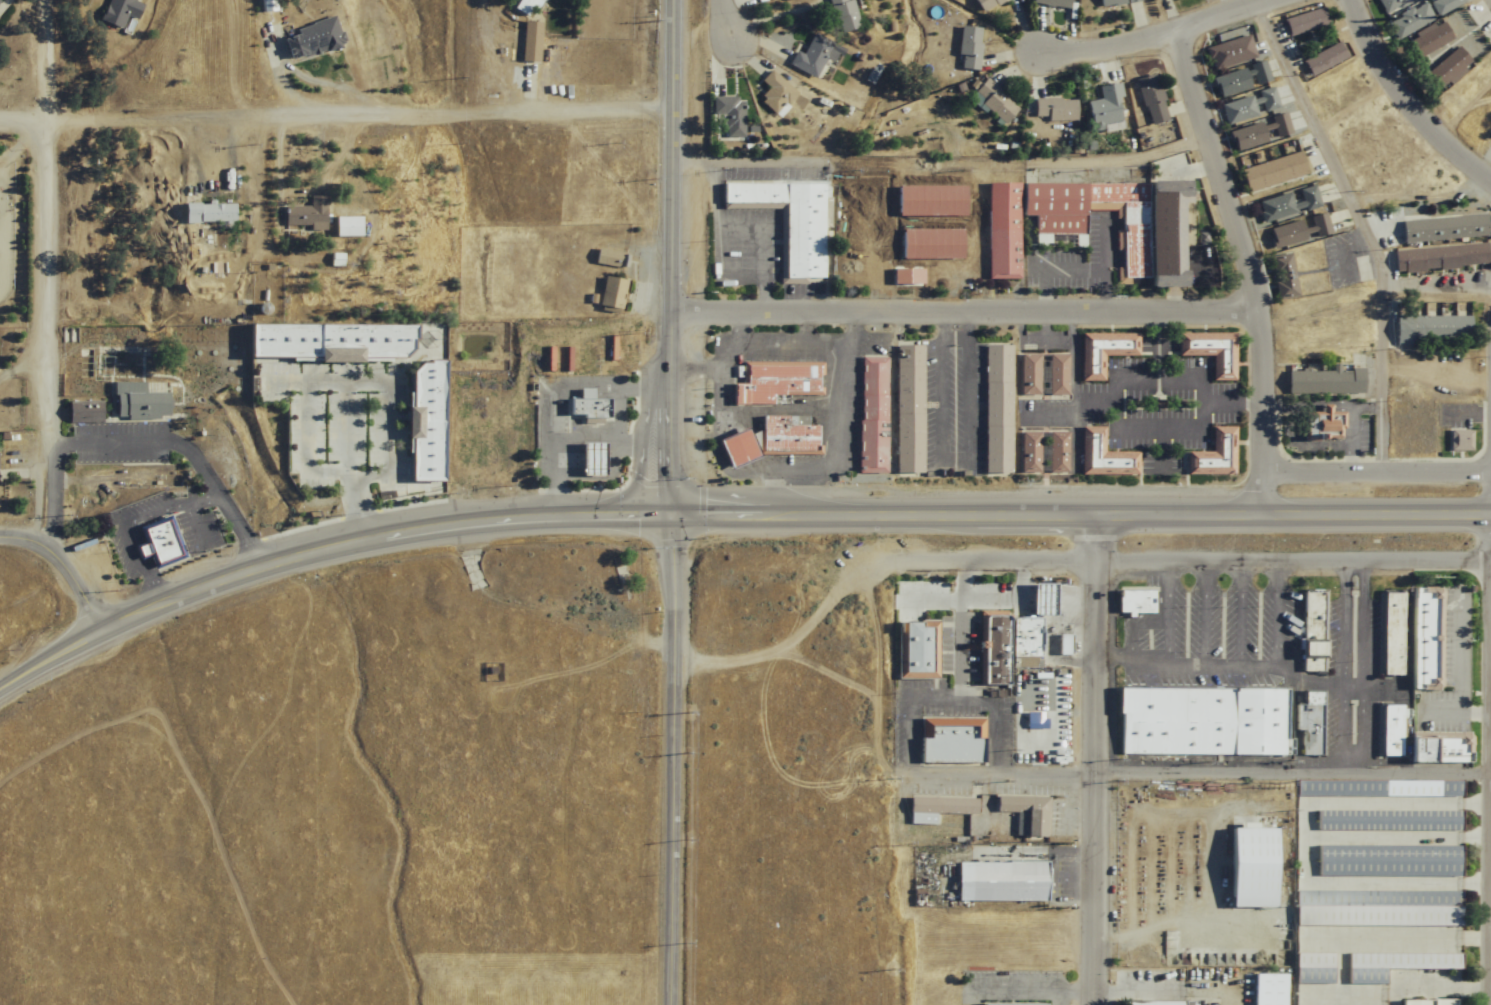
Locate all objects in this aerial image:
building: (765, 0)
building: (1154, 0)
building: (1112, 2)
building: (1050, 3)
building: (985, 4)
building: (265, 5)
building: (1390, 5)
building: (522, 6)
building: (1444, 6)
building: (119, 11)
road: (724, 13)
building: (841, 15)
building: (1303, 21)
building: (1409, 21)
road: (1154, 35)
building: (310, 38)
building: (528, 41)
building: (1428, 41)
building: (966, 48)
building: (1228, 52)
building: (809, 56)
building: (1323, 59)
building: (1448, 68)
building: (1239, 79)
building: (774, 94)
building: (1148, 99)
building: (1266, 100)
building: (991, 102)
road: (1403, 107)
building: (1051, 109)
building: (1103, 110)
building: (1236, 110)
building: (726, 114)
road: (333, 118)
building: (1257, 133)
building: (1270, 173)
building: (1285, 204)
building: (205, 213)
building: (302, 214)
building: (783, 221)
road: (761, 224)
building: (1146, 225)
building: (342, 227)
road: (940, 227)
building: (1315, 227)
road: (1361, 228)
building: (1440, 229)
building: (1283, 235)
road: (1364, 243)
road: (918, 246)
road: (1242, 246)
building: (1436, 258)
building: (605, 259)
road: (665, 259)
road: (1103, 263)
road: (1051, 266)
road: (34, 268)
road: (937, 269)
road: (742, 273)
building: (1279, 277)
building: (606, 293)
road: (1373, 300)
road: (961, 313)
building: (1427, 330)
building: (323, 342)
road: (791, 346)
building: (1207, 351)
building: (1099, 352)
road: (1073, 357)
building: (1053, 374)
building: (1025, 375)
road: (1136, 379)
building: (772, 382)
building: (1320, 382)
road: (388, 383)
road: (546, 397)
building: (136, 400)
road: (1232, 403)
building: (584, 408)
building: (903, 409)
building: (992, 409)
road: (727, 410)
building: (80, 412)
road: (617, 412)
road: (1351, 412)
building: (868, 415)
road: (1075, 415)
road: (1467, 415)
road: (1201, 422)
building: (419, 423)
road: (838, 425)
building: (1318, 425)
road: (344, 426)
road: (604, 435)
building: (782, 436)
road: (1076, 439)
building: (1456, 441)
road: (144, 442)
road: (1307, 442)
road: (1162, 447)
building: (732, 448)
building: (1025, 452)
building: (1053, 452)
building: (1210, 455)
building: (1099, 456)
building: (584, 459)
road: (956, 460)
road: (1160, 462)
road: (318, 471)
road: (1376, 472)
road: (1263, 493)
road: (1077, 516)
traffic signals: (665, 518)
road: (131, 519)
road: (198, 525)
road: (377, 539)
building: (156, 542)
road: (1181, 560)
road: (61, 567)
road: (981, 601)
building: (1132, 602)
road: (1168, 611)
road: (962, 612)
road: (1203, 612)
road: (1242, 612)
road: (1276, 612)
building: (1010, 637)
building: (1309, 639)
building: (1423, 639)
building: (914, 650)
road: (51, 659)
road: (1461, 663)
road: (1232, 664)
road: (1363, 665)
road: (1341, 666)
road: (952, 700)
road: (1441, 709)
building: (1200, 721)
building: (1310, 723)
building: (1389, 730)
building: (949, 740)
building: (1437, 747)
road: (1096, 760)
road: (672, 761)
road: (1489, 763)
road: (1199, 774)
building: (1376, 787)
building: (937, 806)
building: (1026, 811)
building: (1386, 819)
building: (1387, 860)
building: (1247, 865)
building: (999, 880)
building: (1375, 907)
building: (1392, 964)
building: (1311, 967)
road: (1079, 993)
building: (1424, 1001)
building: (1149, 1002)
building: (1010, 1003)

